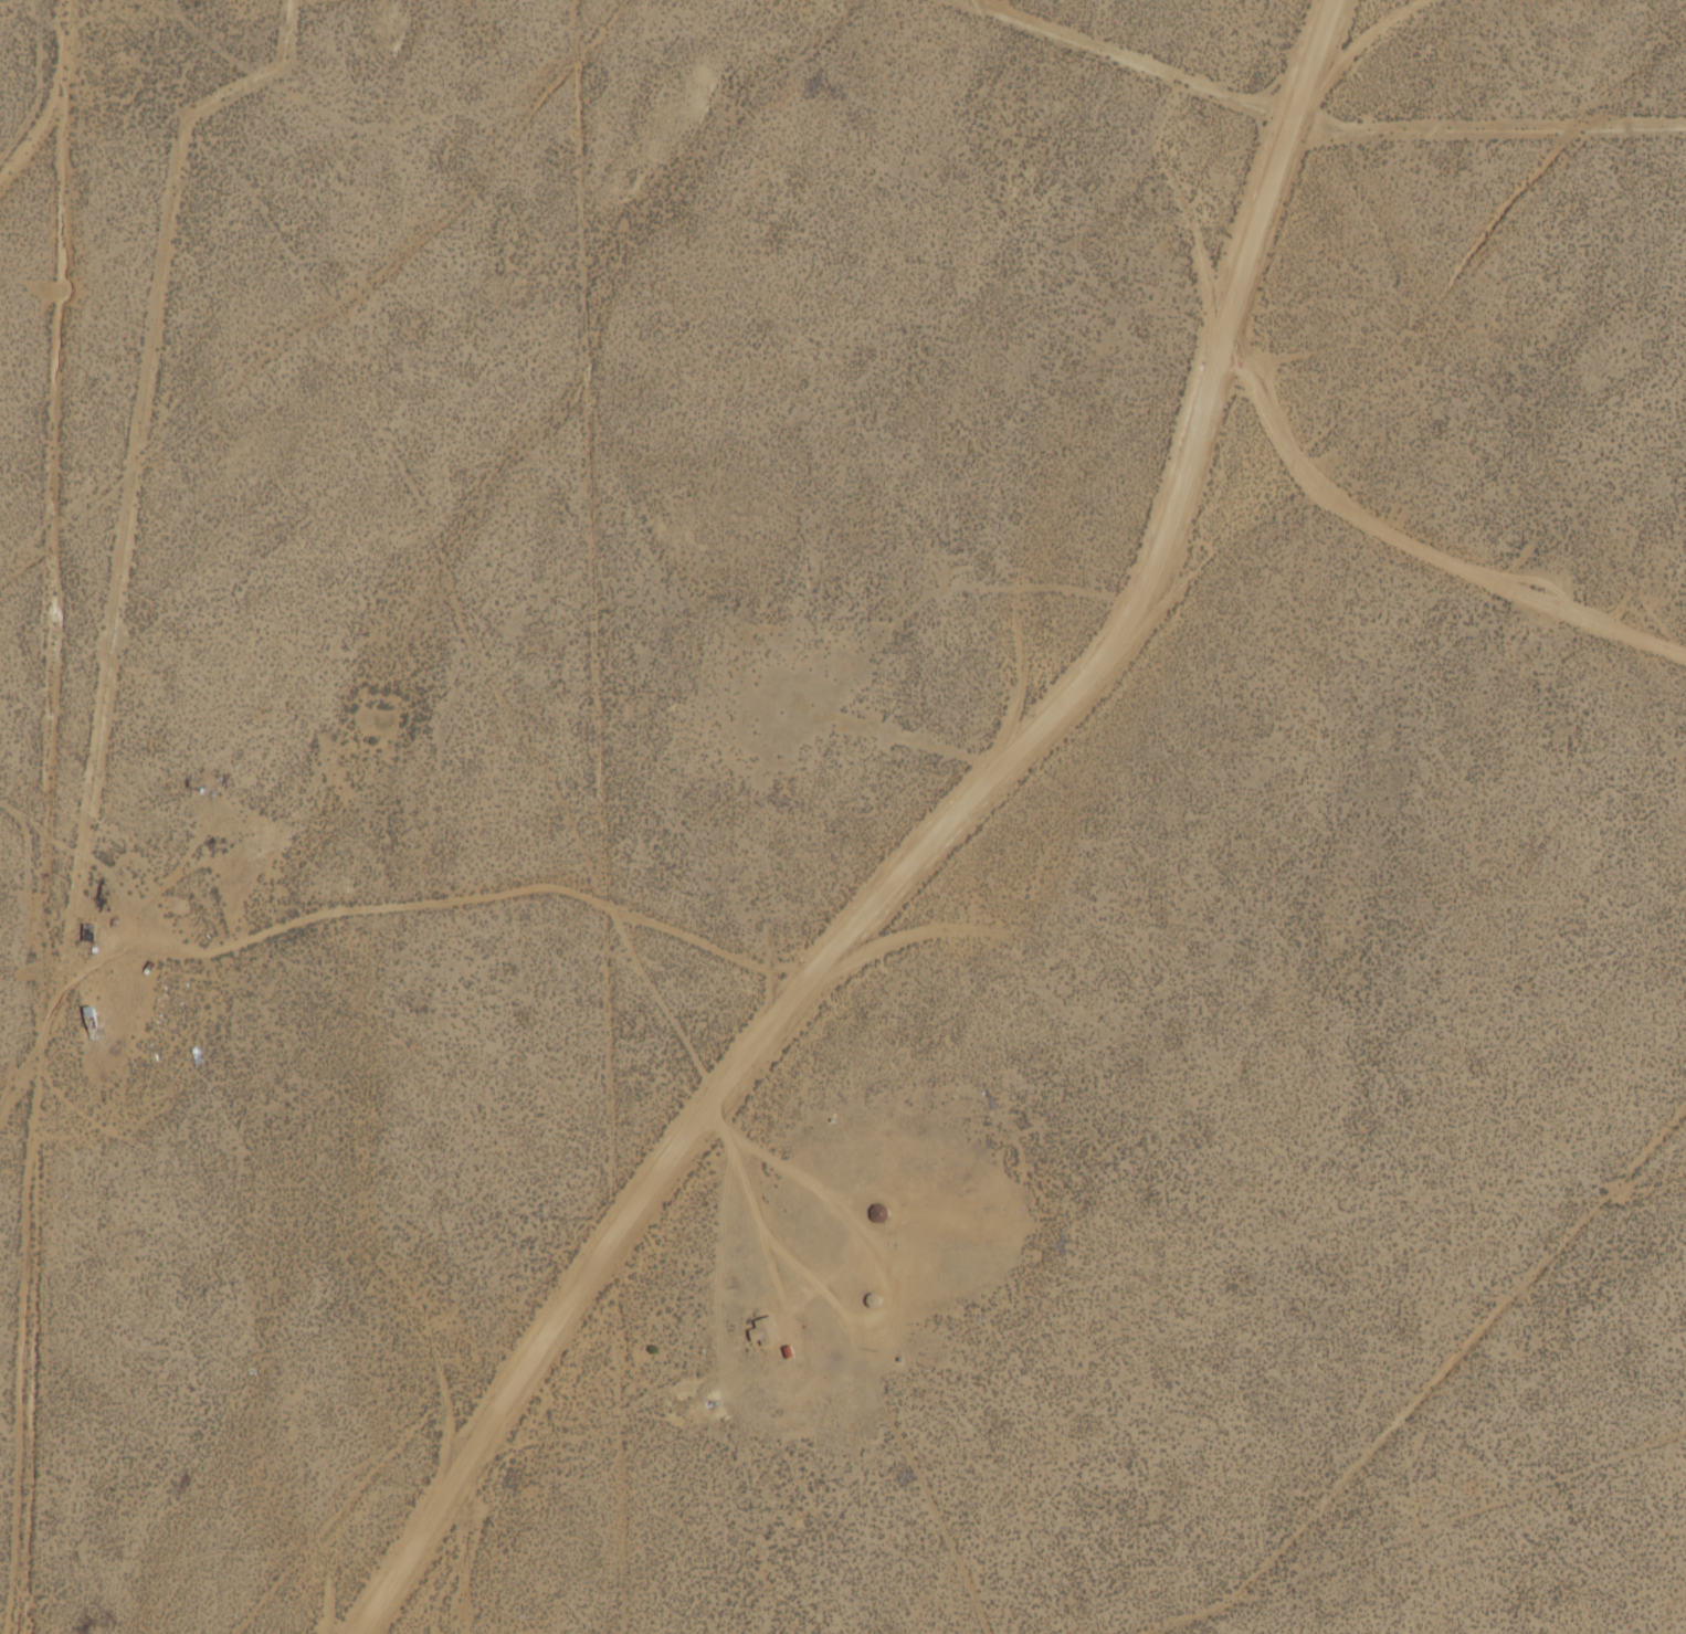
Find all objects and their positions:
road: (929, 851)
building: (874, 1213)
building: (758, 1329)
road: (8, 1489)

